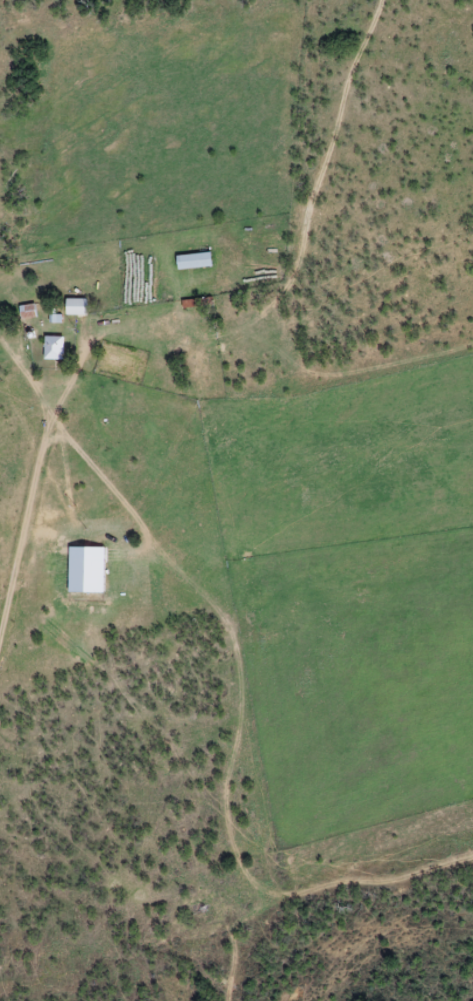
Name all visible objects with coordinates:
building: (193, 260)
building: (75, 306)
building: (27, 310)
building: (53, 347)
road: (31, 506)

